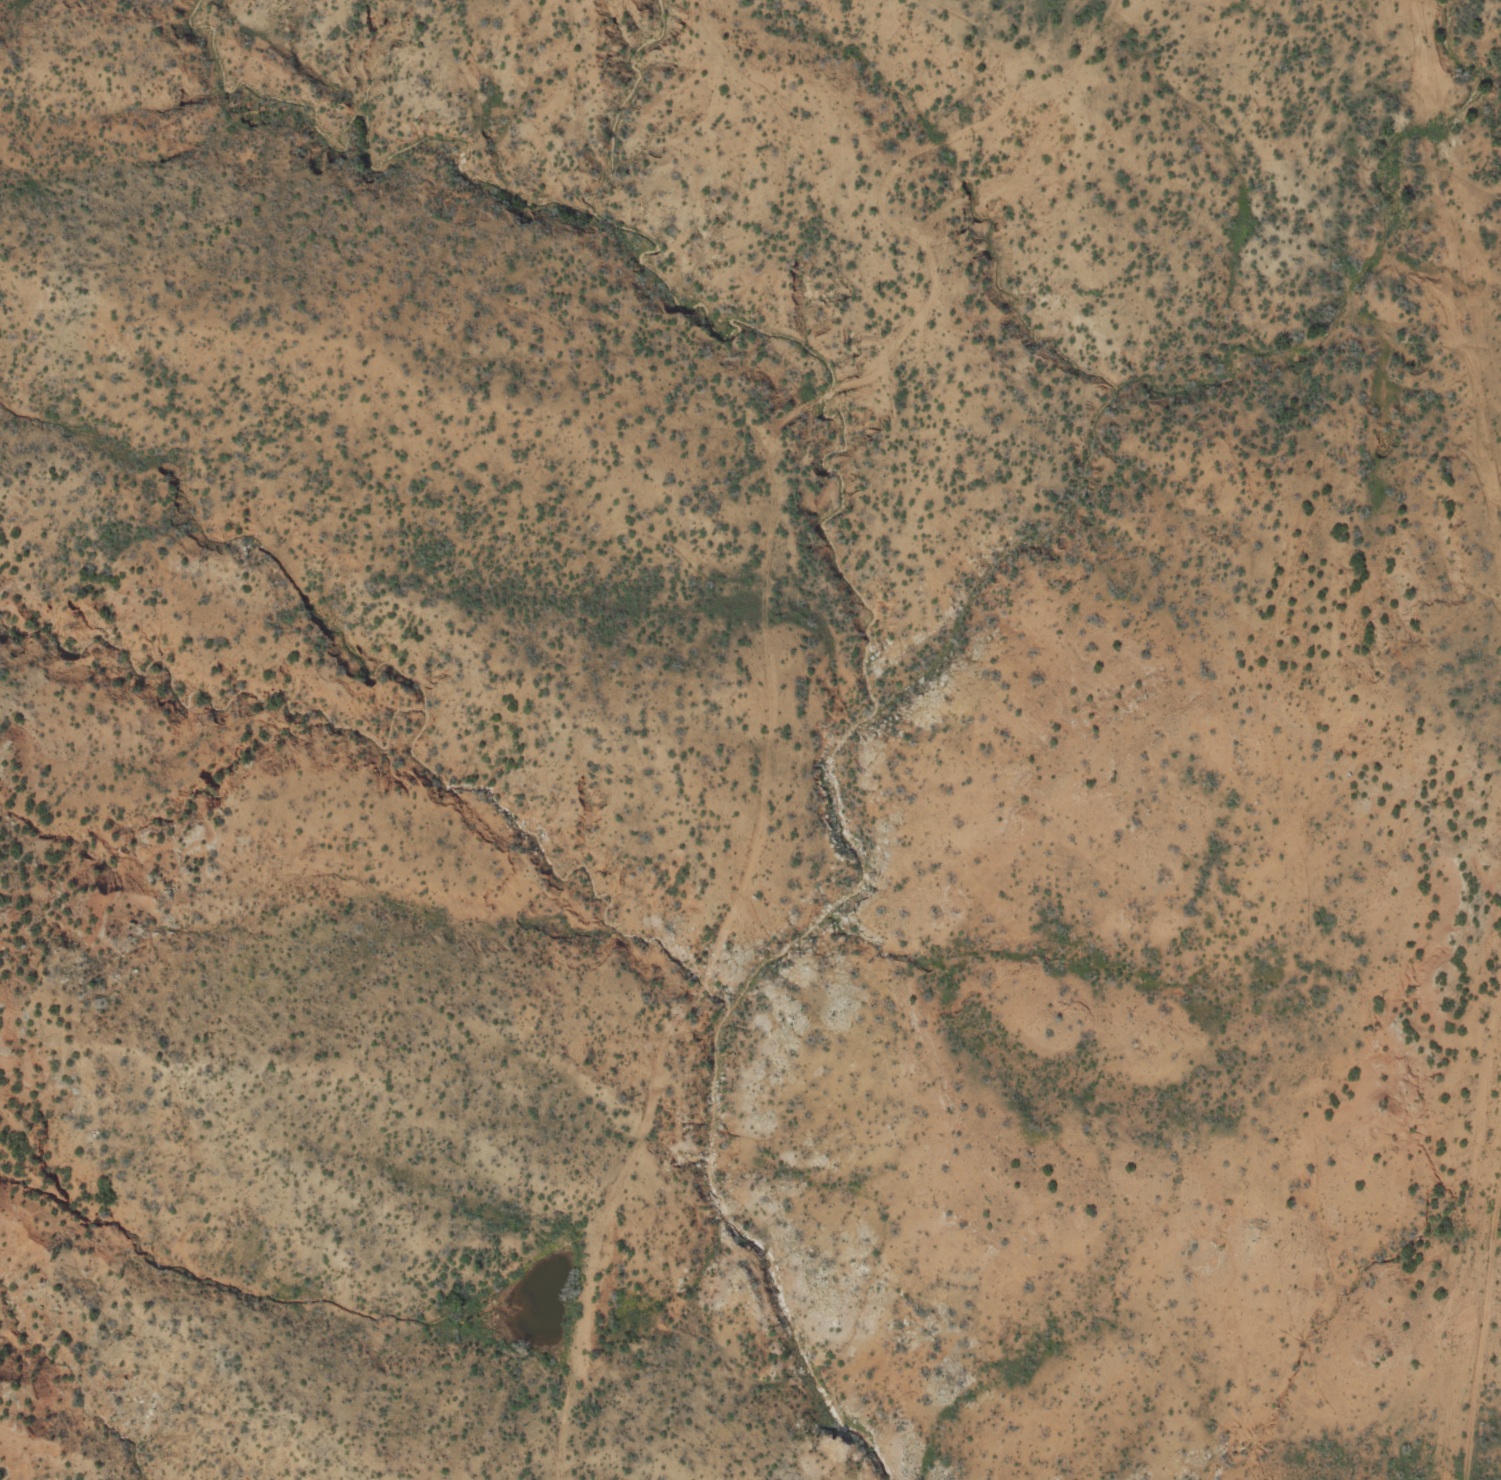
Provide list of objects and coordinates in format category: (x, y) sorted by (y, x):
road: (1482, 1403)

